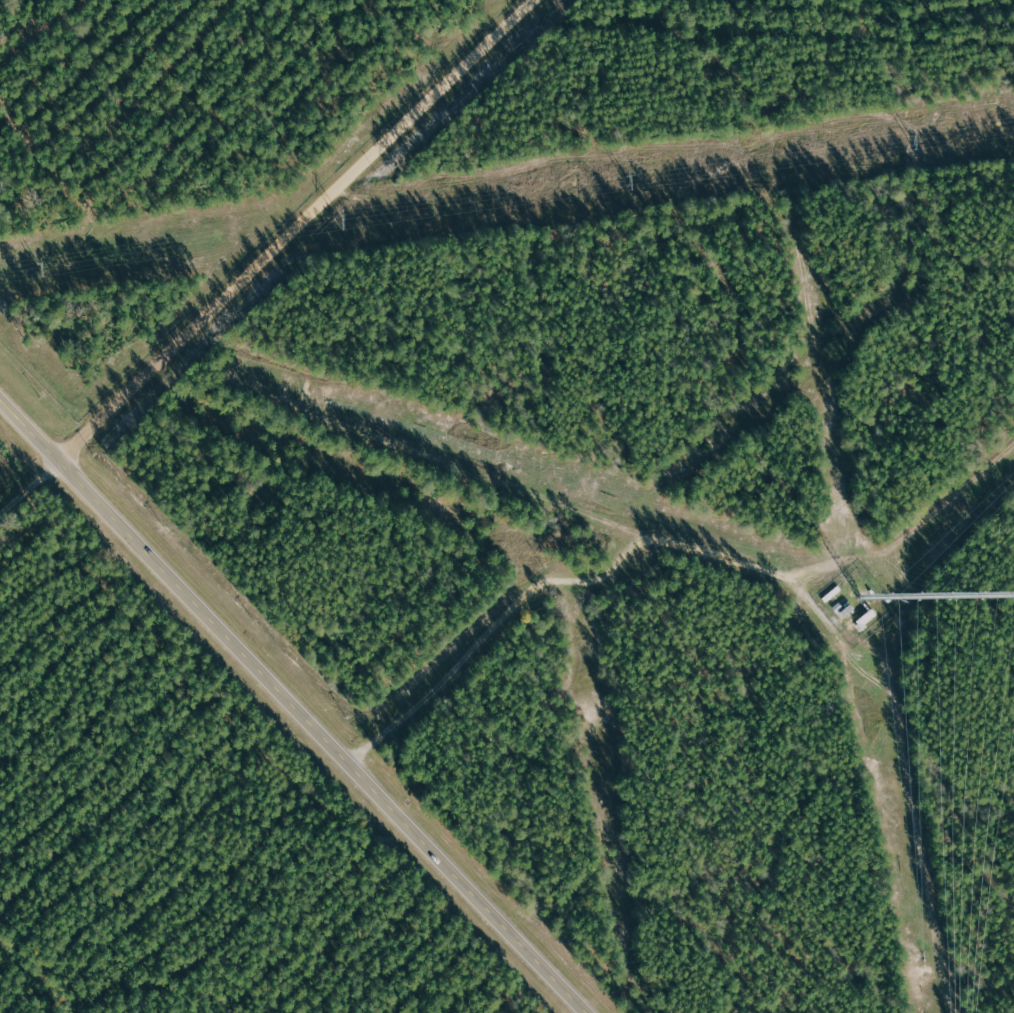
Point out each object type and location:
power tower: (911, 139)
power tower: (627, 181)
power tower: (339, 222)
road: (296, 229)
power tower: (37, 265)
road: (293, 706)

